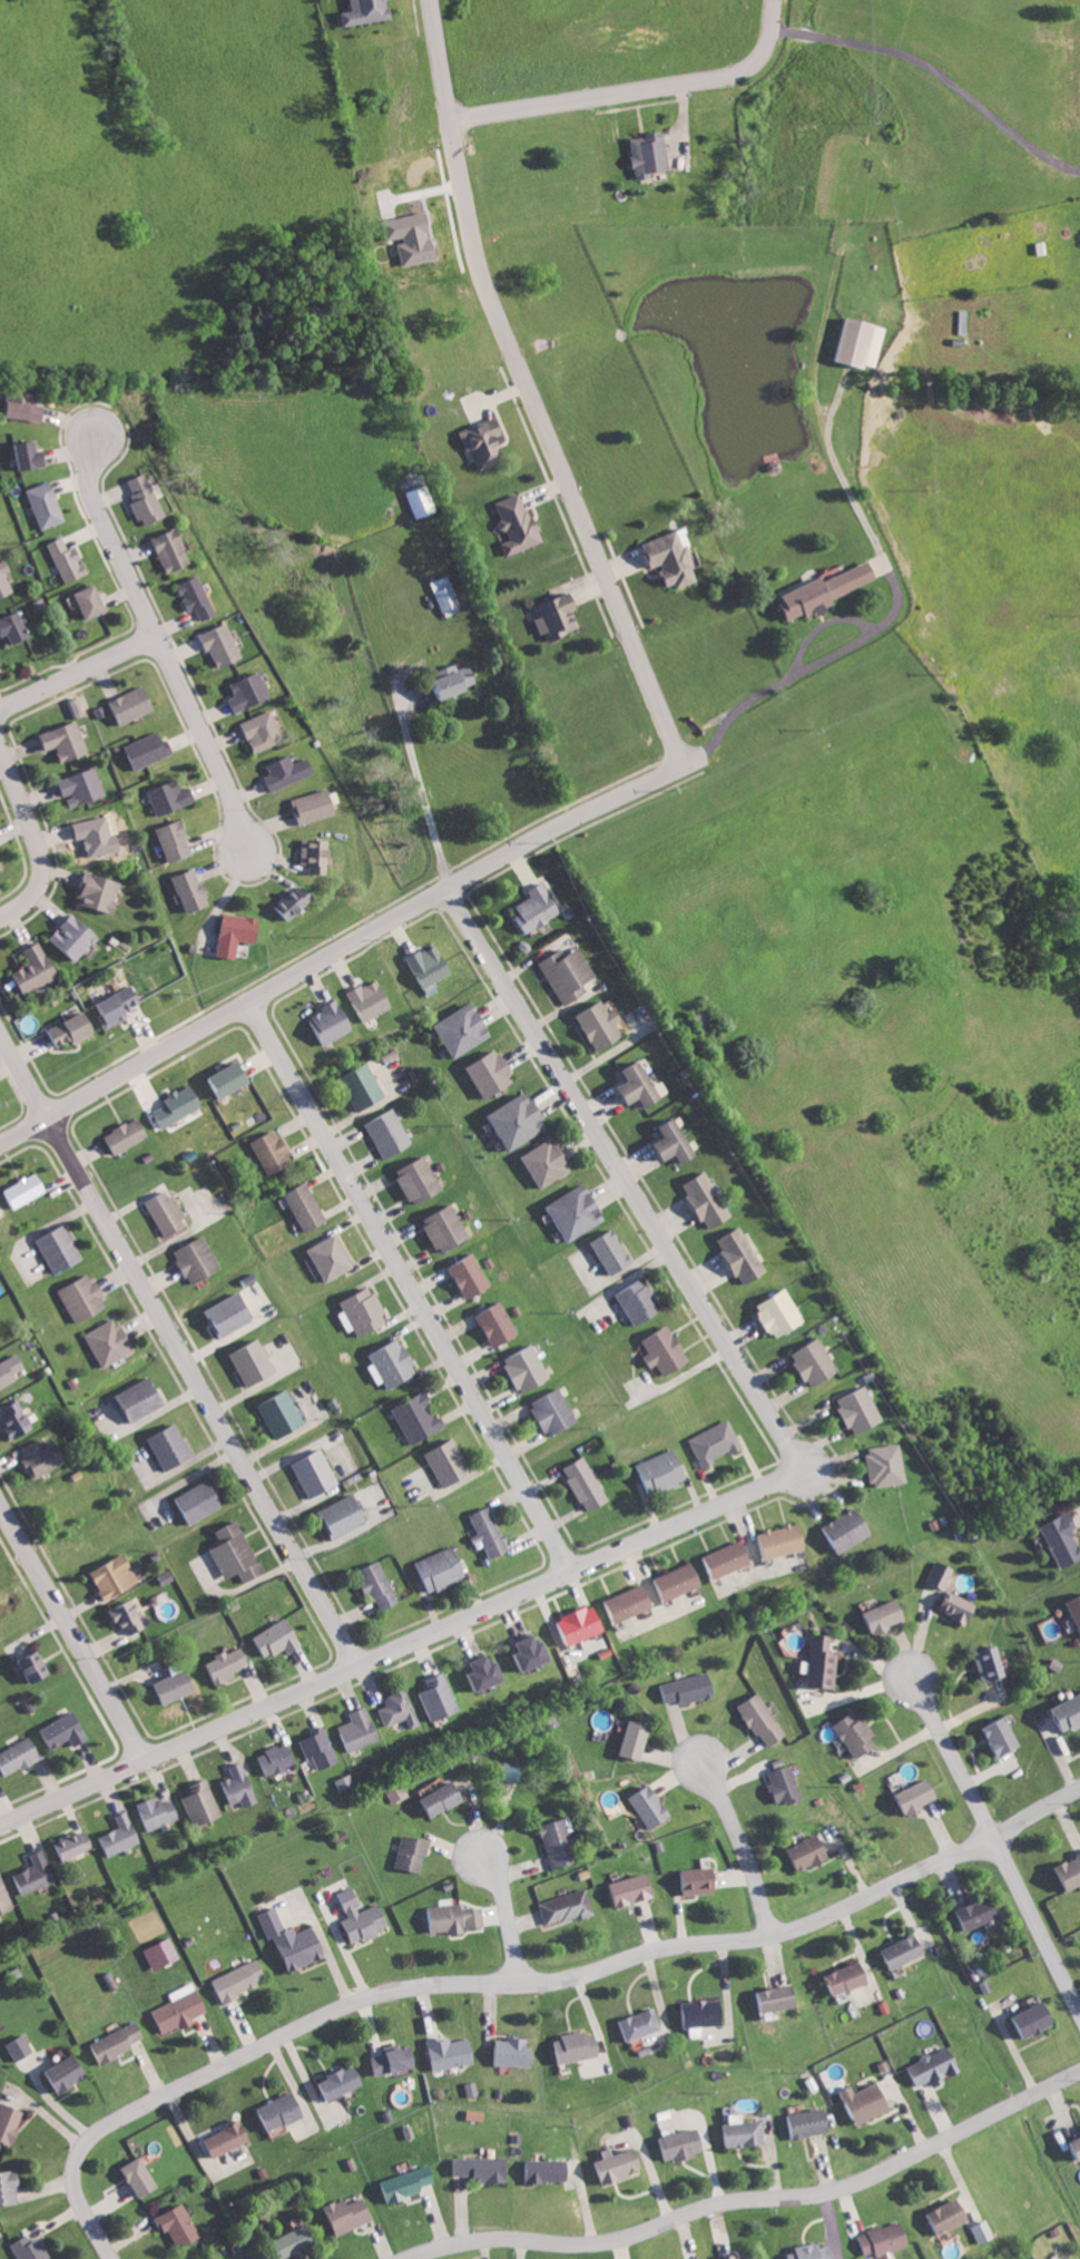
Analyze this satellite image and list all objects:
building: (369, 11)
road: (638, 89)
building: (651, 154)
building: (413, 236)
building: (852, 343)
road: (530, 391)
building: (28, 405)
building: (487, 441)
building: (33, 454)
building: (147, 499)
building: (422, 499)
building: (47, 505)
road: (862, 515)
building: (518, 522)
road: (110, 538)
building: (173, 549)
building: (675, 558)
building: (68, 560)
building: (6, 579)
building: (814, 591)
building: (445, 594)
building: (197, 596)
building: (94, 600)
building: (559, 616)
building: (14, 628)
building: (223, 645)
road: (76, 675)
building: (459, 678)
building: (249, 692)
building: (134, 704)
building: (263, 731)
building: (67, 741)
road: (203, 744)
building: (149, 749)
building: (287, 771)
road: (415, 785)
building: (84, 786)
building: (171, 796)
building: (317, 805)
building: (97, 834)
building: (176, 841)
road: (29, 844)
building: (0, 849)
building: (317, 854)
building: (1, 864)
road: (445, 877)
building: (193, 890)
building: (101, 892)
building: (296, 901)
building: (539, 907)
building: (238, 933)
building: (77, 937)
building: (432, 965)
building: (38, 968)
building: (570, 975)
building: (373, 999)
building: (119, 1005)
building: (332, 1023)
building: (602, 1026)
building: (76, 1028)
building: (464, 1029)
building: (493, 1074)
building: (234, 1078)
building: (641, 1086)
building: (365, 1087)
building: (180, 1105)
building: (520, 1121)
building: (390, 1133)
building: (127, 1135)
building: (678, 1143)
building: (274, 1153)
building: (547, 1162)
road: (624, 1174)
building: (420, 1181)
building: (26, 1191)
building: (708, 1201)
building: (307, 1207)
building: (578, 1211)
building: (167, 1213)
building: (446, 1229)
building: (60, 1250)
building: (613, 1252)
building: (744, 1256)
building: (332, 1258)
building: (199, 1260)
building: (471, 1277)
road: (409, 1281)
building: (85, 1299)
building: (640, 1301)
building: (364, 1312)
building: (782, 1312)
building: (233, 1313)
building: (498, 1324)
building: (0, 1340)
building: (110, 1341)
building: (666, 1350)
road: (180, 1352)
building: (255, 1361)
building: (816, 1361)
building: (393, 1362)
building: (527, 1368)
building: (10, 1370)
building: (143, 1397)
building: (861, 1409)
building: (554, 1411)
building: (283, 1414)
building: (419, 1417)
building: (18, 1419)
building: (716, 1443)
building: (171, 1446)
building: (43, 1456)
building: (450, 1463)
building: (886, 1464)
building: (661, 1470)
building: (316, 1473)
building: (587, 1483)
building: (199, 1500)
building: (346, 1515)
building: (848, 1528)
building: (490, 1531)
building: (1054, 1537)
building: (783, 1539)
building: (237, 1553)
building: (726, 1558)
building: (442, 1568)
building: (117, 1575)
building: (679, 1580)
building: (379, 1583)
building: (953, 1592)
building: (630, 1602)
building: (1071, 1611)
building: (888, 1614)
building: (129, 1616)
building: (580, 1624)
road: (73, 1632)
building: (277, 1637)
road: (401, 1649)
building: (534, 1651)
building: (823, 1661)
building: (992, 1662)
building: (227, 1664)
building: (38, 1666)
building: (489, 1671)
building: (176, 1686)
building: (689, 1688)
building: (440, 1696)
building: (399, 1709)
building: (1062, 1711)
building: (764, 1720)
building: (360, 1729)
building: (65, 1730)
building: (857, 1734)
building: (1005, 1734)
building: (637, 1738)
building: (320, 1748)
building: (18, 1756)
building: (276, 1759)
building: (785, 1784)
building: (238, 1786)
building: (919, 1795)
building: (443, 1798)
building: (202, 1803)
building: (651, 1806)
building: (157, 1811)
building: (120, 1835)
road: (739, 1839)
road: (992, 1839)
building: (558, 1842)
building: (73, 1845)
building: (809, 1850)
building: (412, 1852)
building: (1069, 1871)
building: (35, 1874)
building: (699, 1880)
building: (632, 1889)
building: (4, 1896)
building: (567, 1907)
road: (505, 1909)
building: (978, 1913)
building: (362, 1917)
building: (454, 1917)
building: (294, 1939)
building: (904, 1950)
building: (163, 1953)
building: (848, 1977)
building: (240, 1979)
road: (519, 1984)
building: (777, 1997)
building: (180, 2011)
building: (705, 2013)
building: (641, 2023)
building: (118, 2042)
building: (20, 2046)
building: (578, 2046)
building: (512, 2051)
building: (453, 2052)
building: (392, 2060)
building: (935, 2067)
building: (68, 2073)
building: (342, 2082)
building: (868, 2101)
building: (282, 2111)
building: (475, 2114)
building: (11, 2121)
building: (809, 2122)
building: (744, 2131)
building: (228, 2139)
building: (1077, 2141)
building: (684, 2144)
building: (619, 2163)
building: (480, 2168)
building: (548, 2170)
building: (143, 2175)
building: (409, 2183)
building: (9, 2187)
road: (752, 2198)
building: (350, 2213)
building: (948, 2216)
building: (181, 2226)
building: (982, 2231)
building: (296, 2239)
building: (30, 2248)
building: (814, 2251)
building: (729, 2257)
building: (758, 2258)

